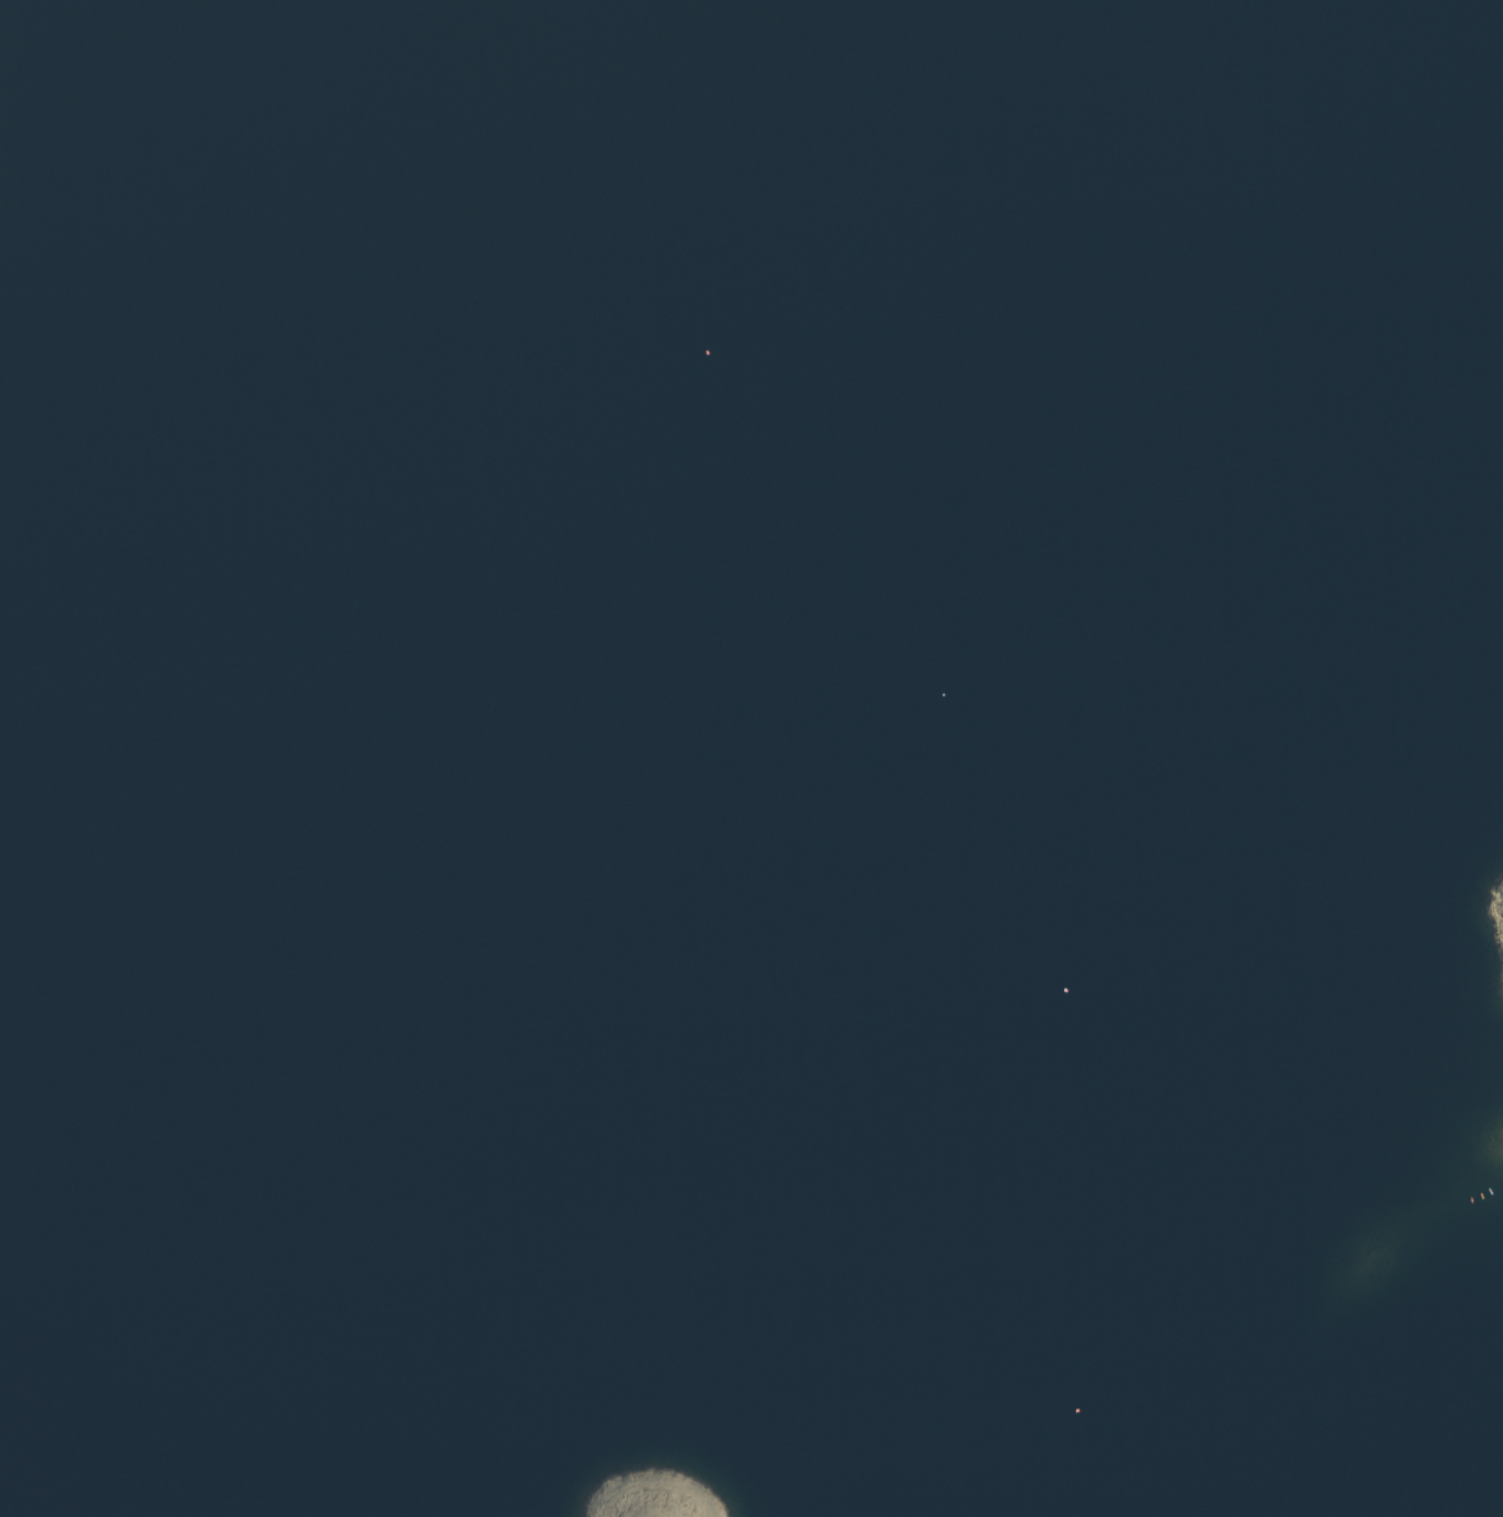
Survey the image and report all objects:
park: (751, 758)
river: (730, 828)

